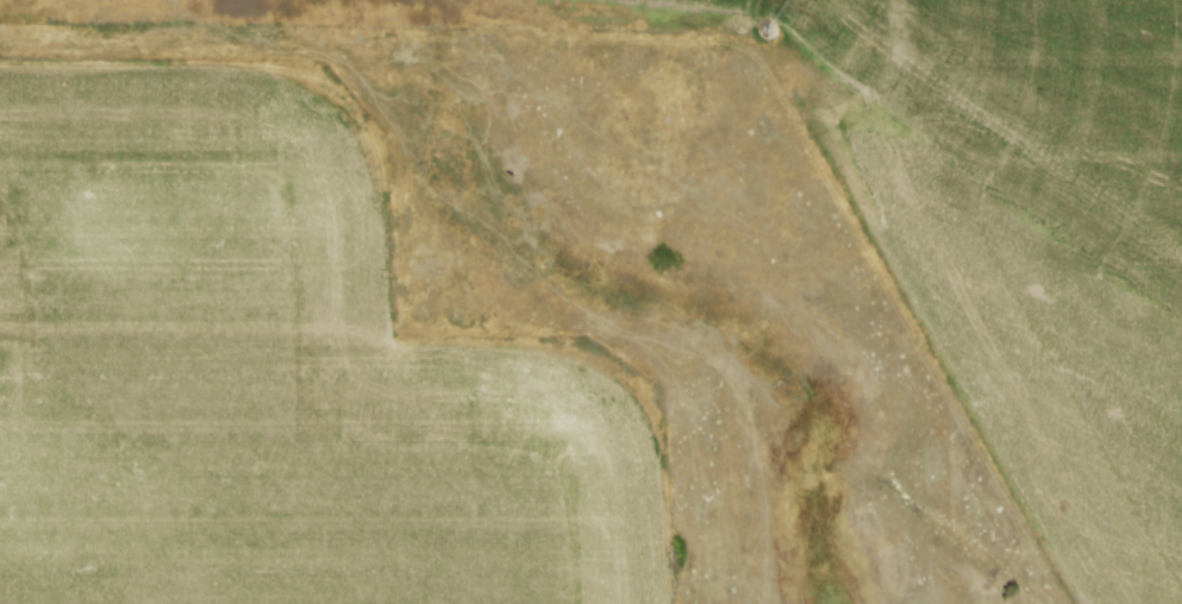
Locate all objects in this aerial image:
crop: (992, 222)
crop: (276, 370)

